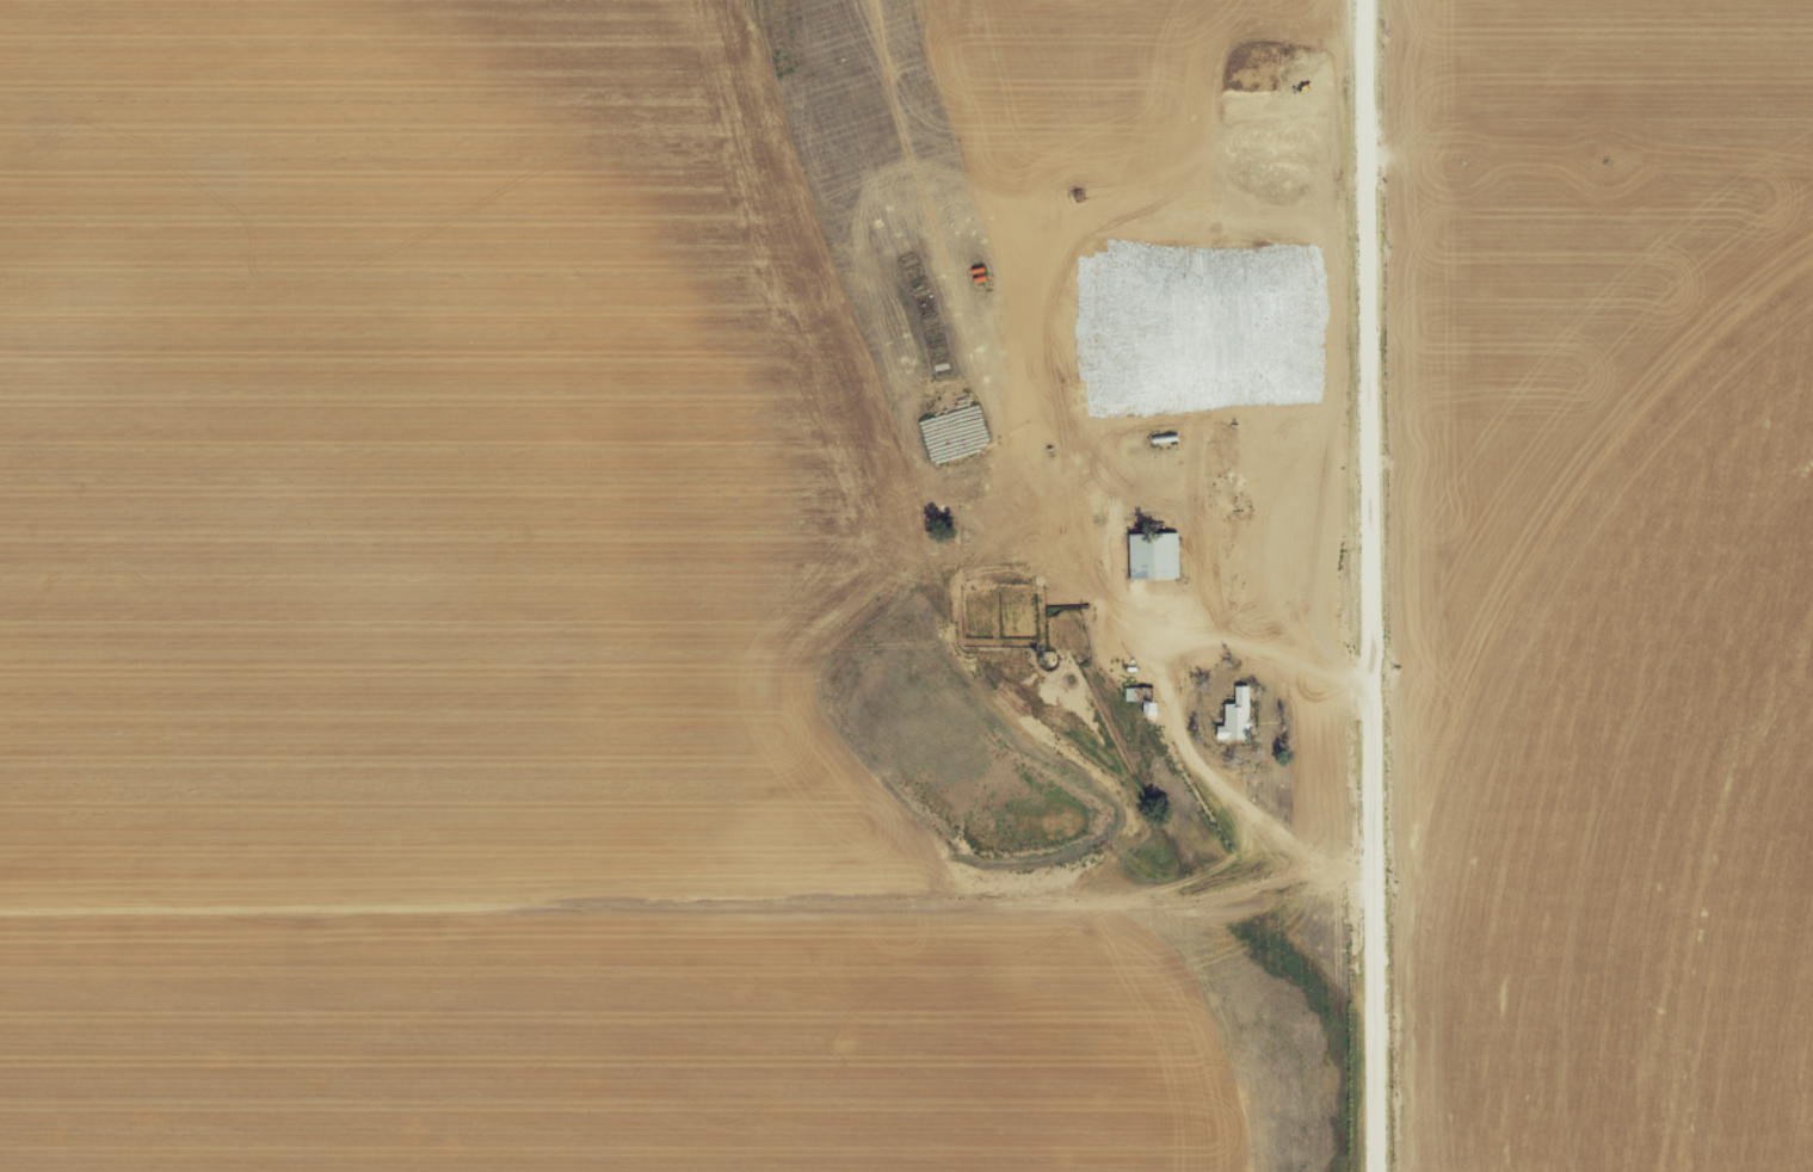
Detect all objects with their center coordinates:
road: (1365, 586)
building: (1239, 717)

